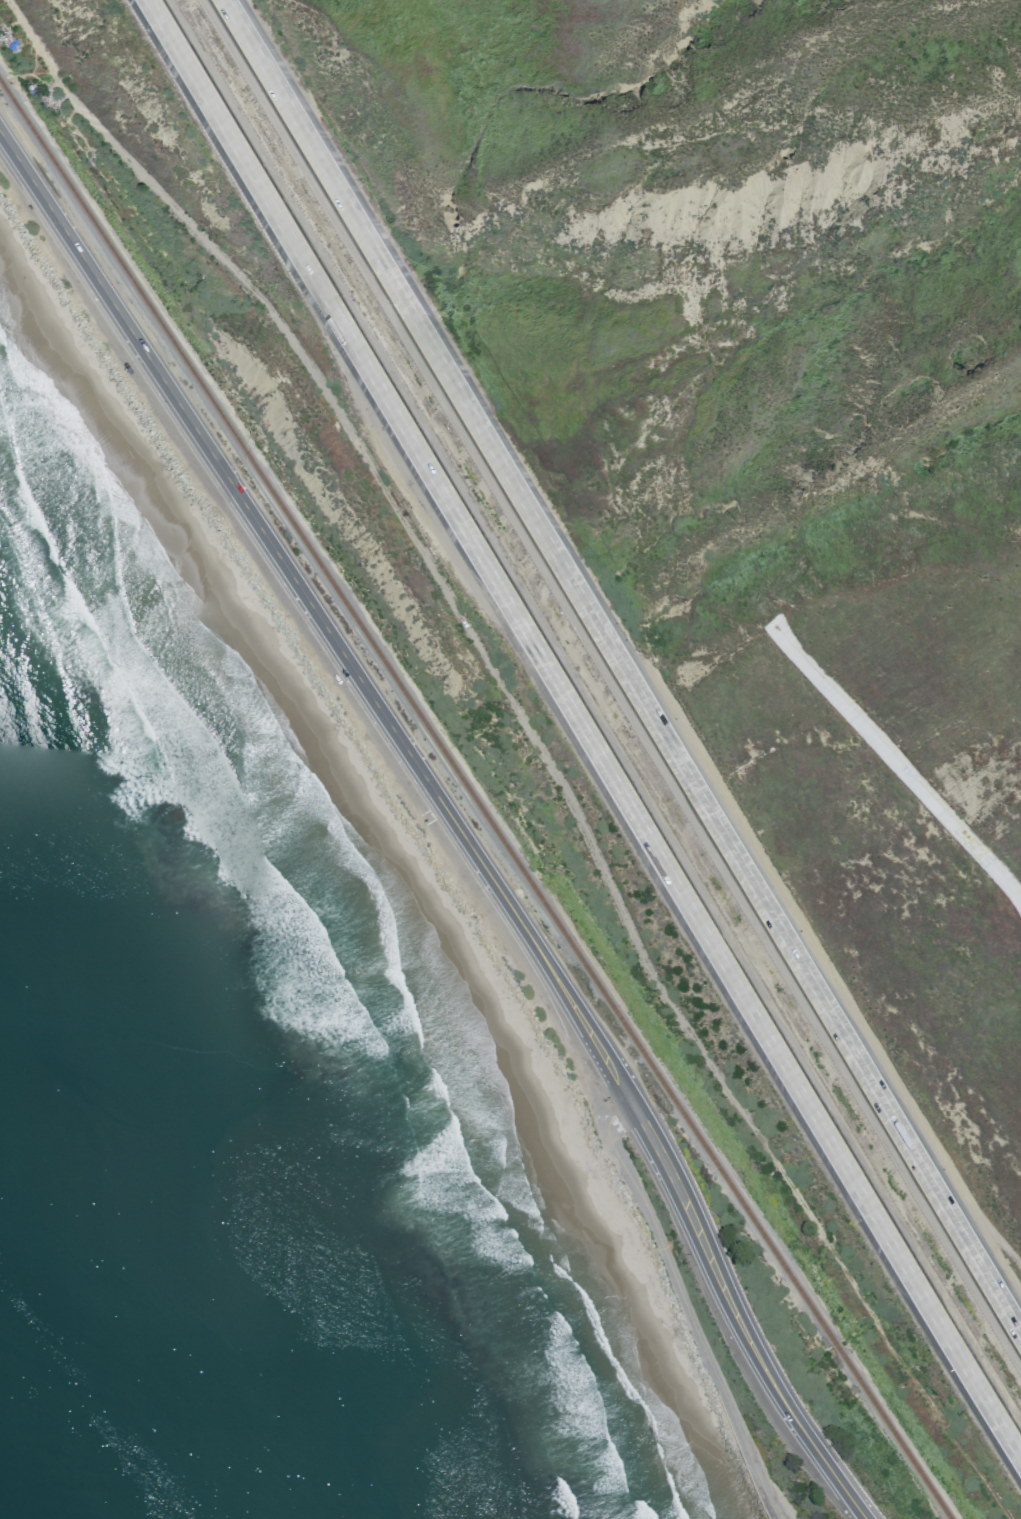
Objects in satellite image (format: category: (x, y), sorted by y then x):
road: (285, 324)
railway: (262, 480)
road: (622, 667)
road: (504, 692)
road: (583, 730)
road: (452, 814)
railway: (531, 881)
road: (694, 1041)
railway: (741, 1203)
road: (687, 1296)

